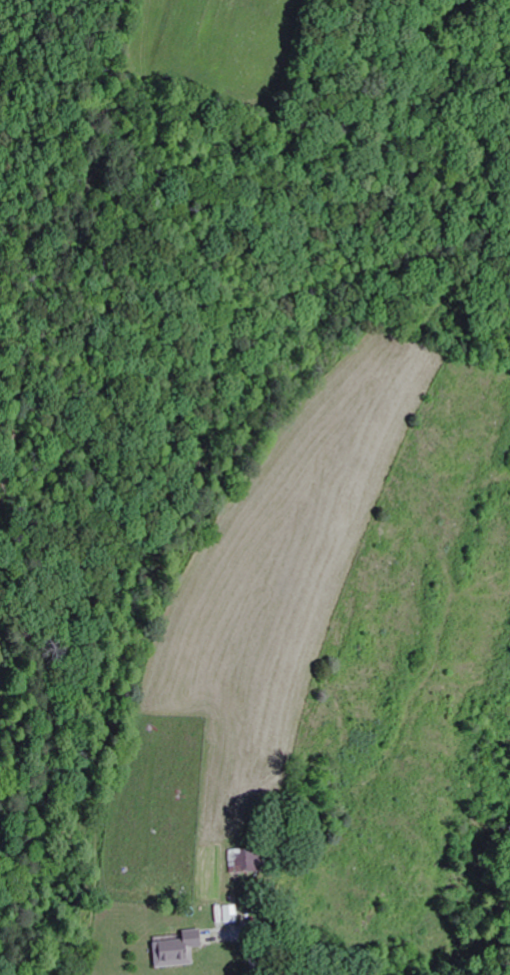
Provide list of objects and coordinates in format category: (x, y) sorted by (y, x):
building: (174, 951)

